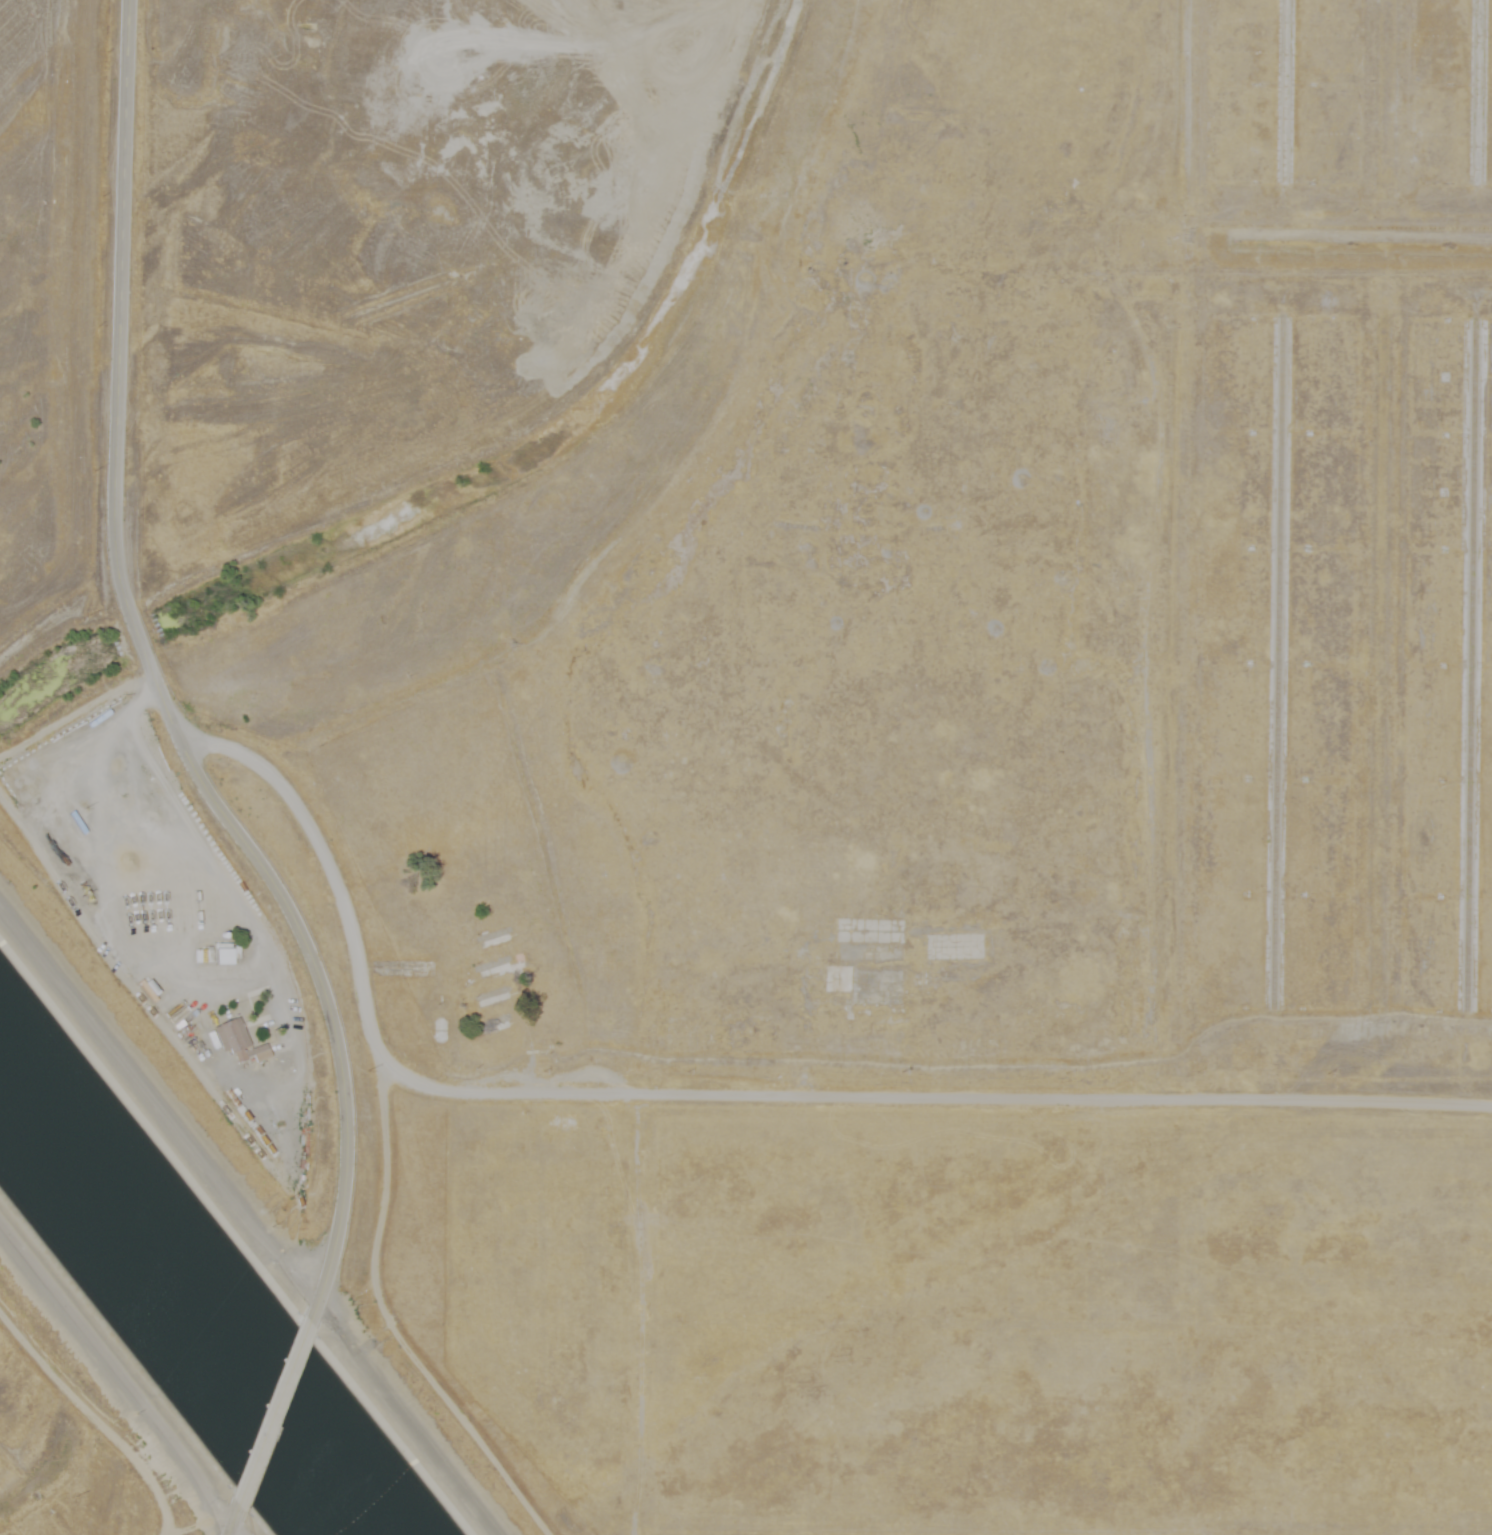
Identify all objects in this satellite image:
road: (1483, 487)
road: (1165, 551)
road: (1280, 589)
road: (157, 681)
building: (229, 951)
building: (232, 1037)
building: (251, 1049)
road: (728, 1099)
road: (281, 1414)
road: (235, 1519)
road: (239, 1529)

